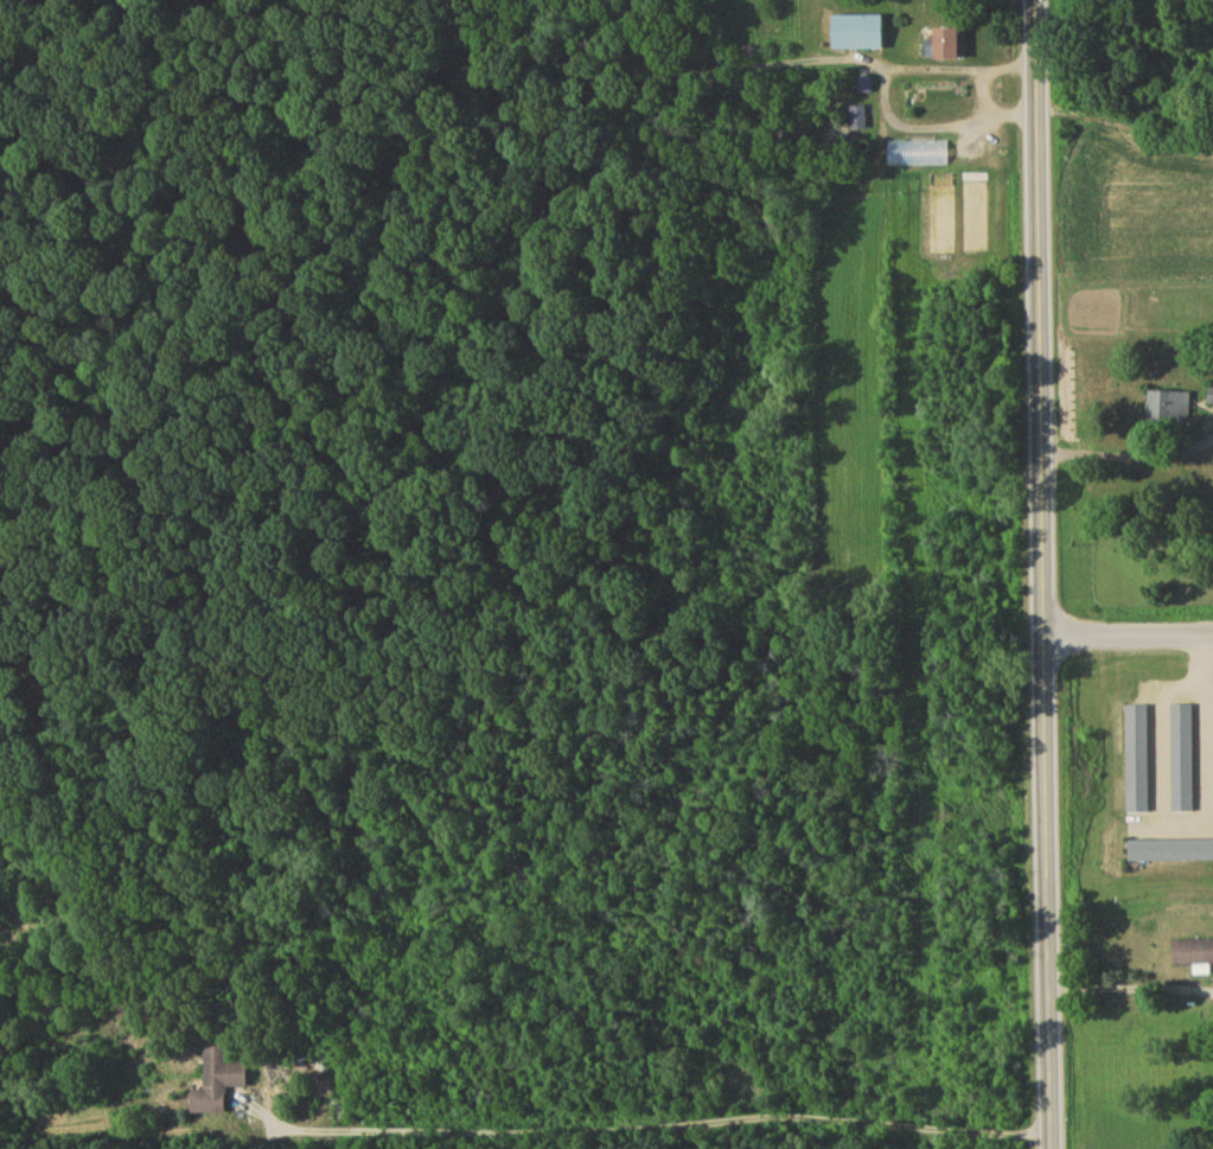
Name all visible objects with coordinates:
building: (858, 37)
building: (947, 47)
road: (883, 97)
building: (917, 157)
building: (975, 215)
building: (941, 216)
building: (1211, 398)
building: (1169, 411)
road: (1100, 458)
road: (1041, 574)
road: (1128, 641)
road: (1202, 668)
road: (1208, 696)
road: (1205, 761)
building: (1170, 854)
building: (1195, 955)
road: (1130, 984)
building: (217, 1084)
road: (640, 1129)

